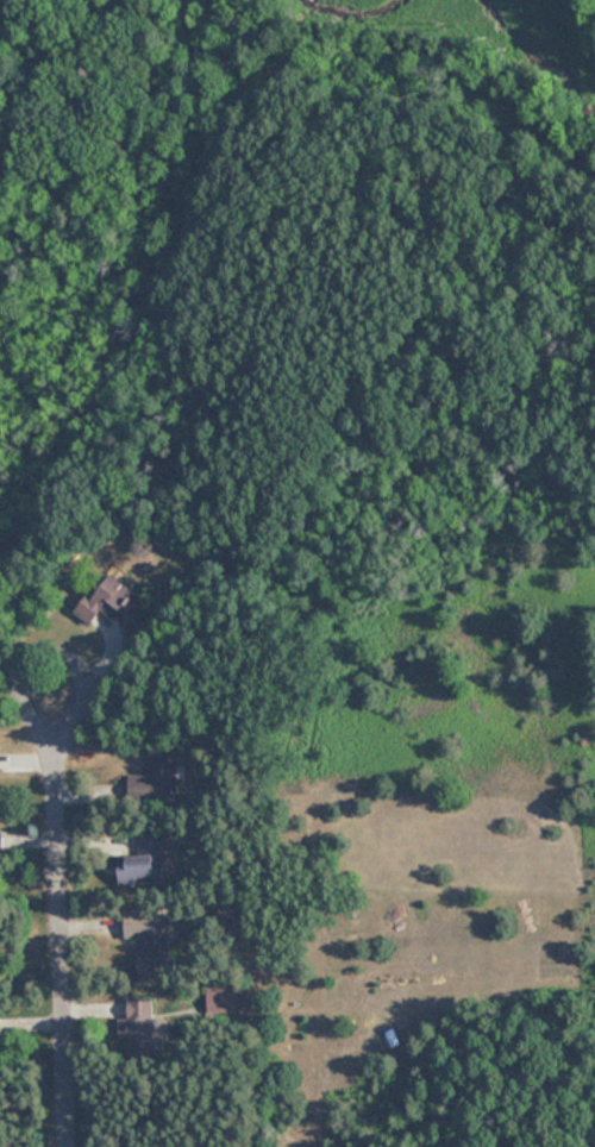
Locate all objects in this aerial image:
building: (113, 601)
building: (154, 778)
building: (1, 845)
building: (144, 860)
road: (59, 898)
building: (155, 939)
building: (137, 1026)

